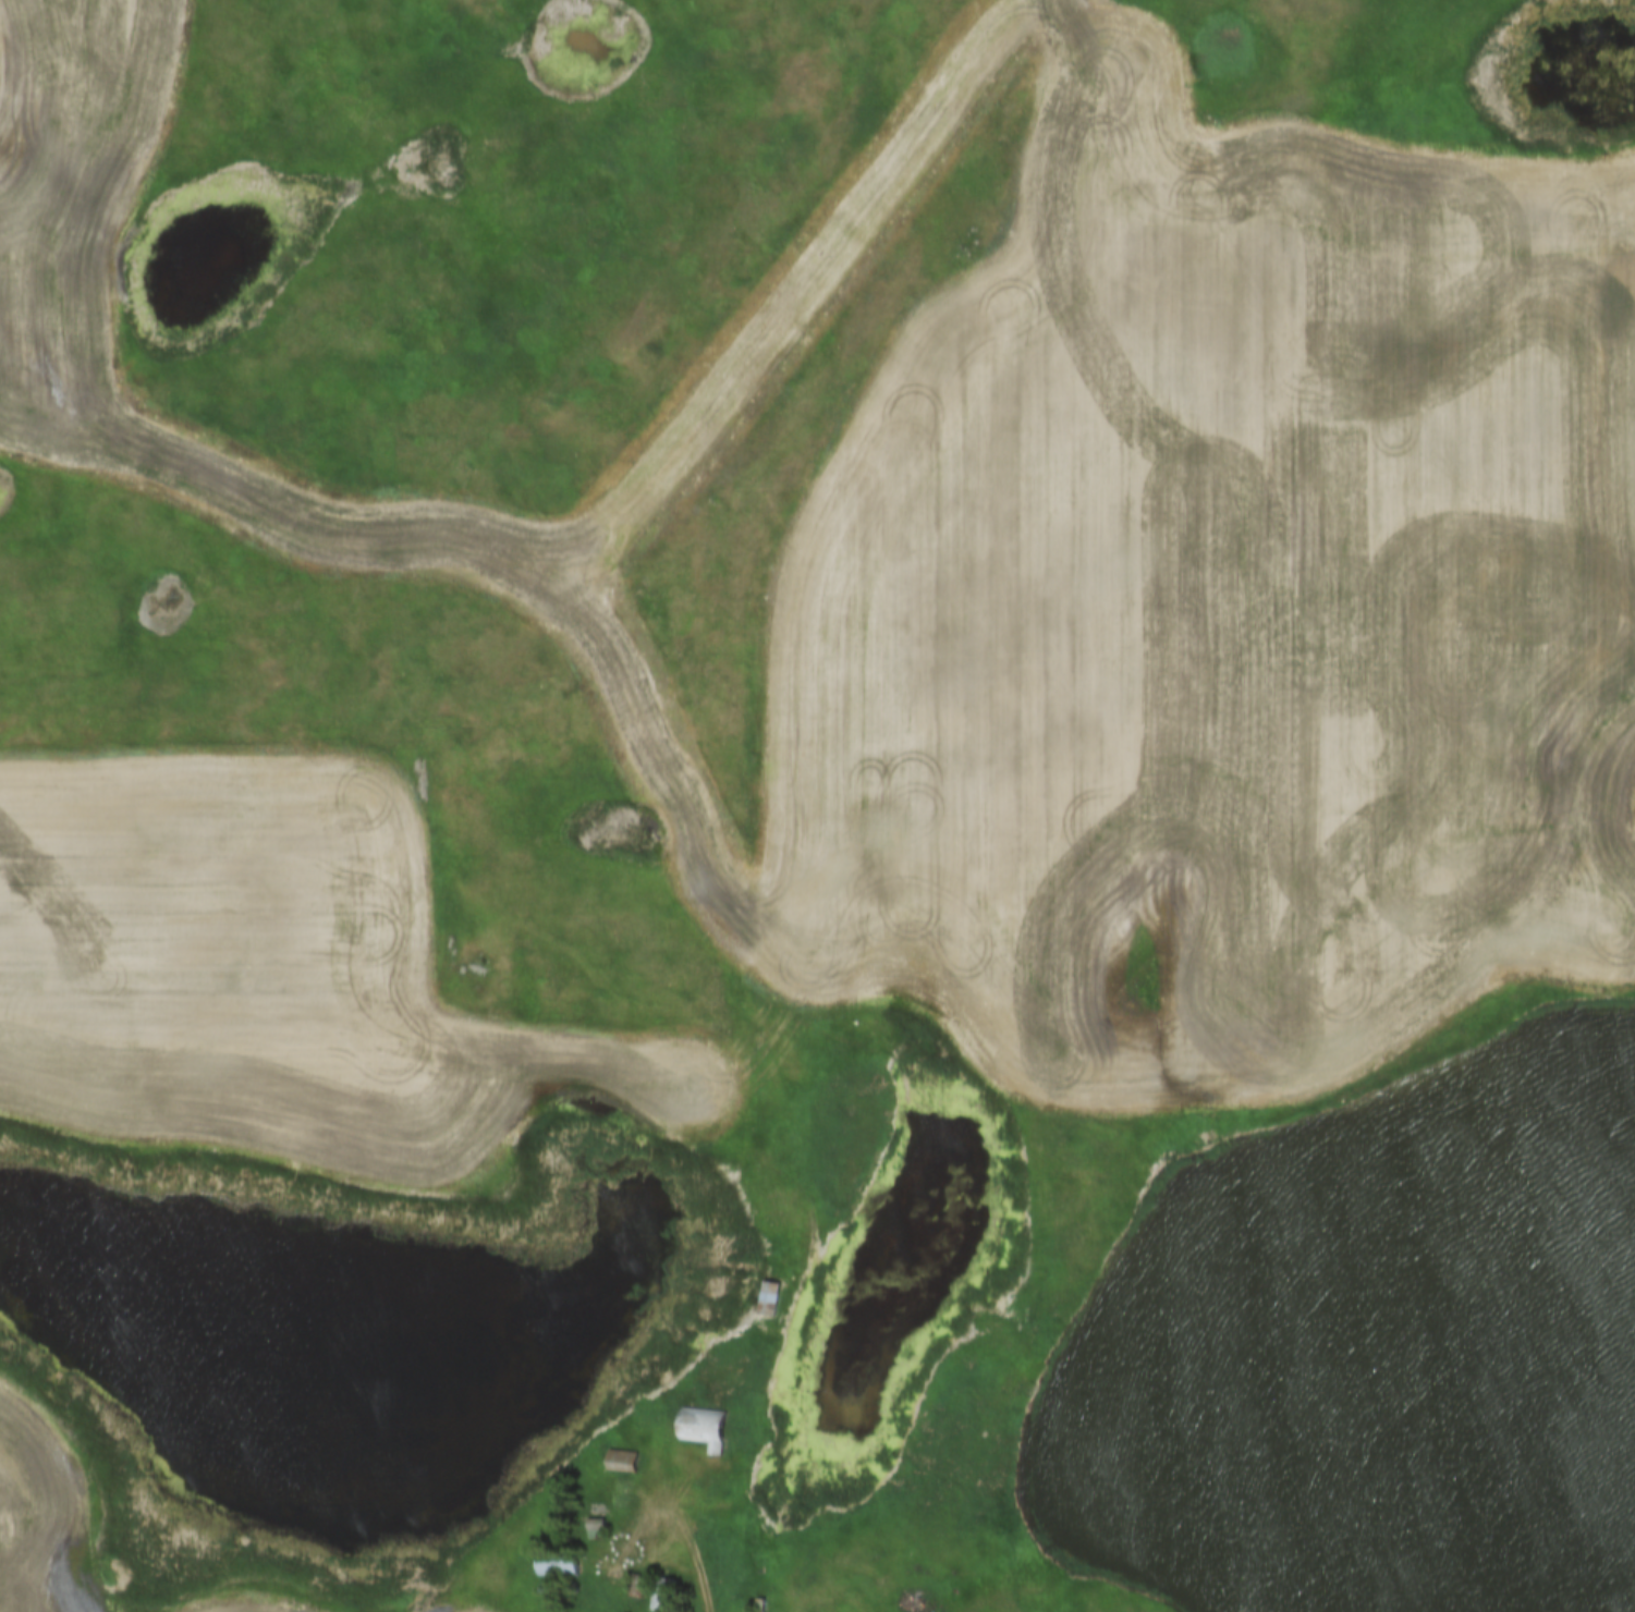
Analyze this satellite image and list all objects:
building: (768, 1298)
building: (701, 1428)
building: (620, 1461)
building: (595, 1527)
road: (692, 1537)
building: (557, 1566)
building: (636, 1587)
building: (662, 1595)

